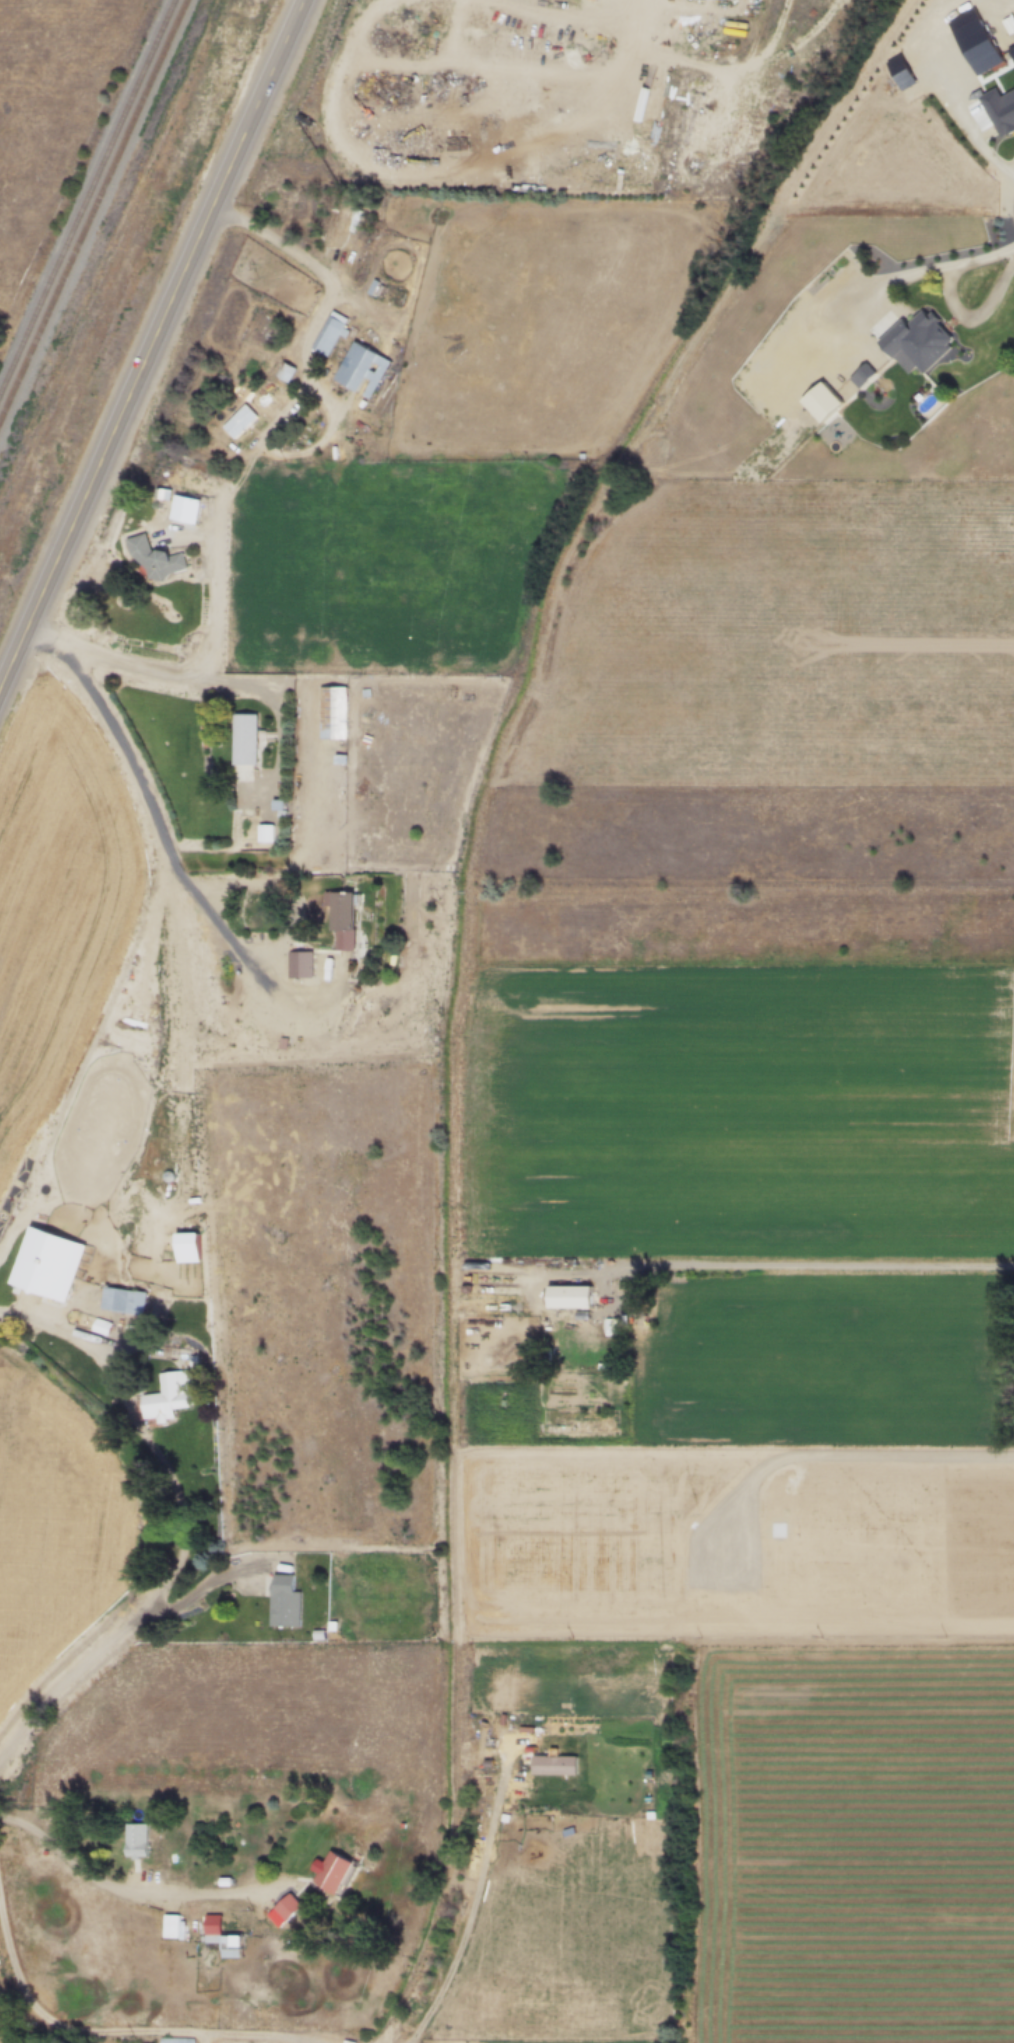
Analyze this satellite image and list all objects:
railway: (86, 197)
railway: (94, 213)
building: (344, 218)
road: (304, 259)
road: (951, 302)
building: (272, 334)
building: (331, 334)
building: (917, 341)
road: (148, 349)
building: (365, 371)
building: (287, 373)
building: (859, 374)
building: (234, 427)
building: (159, 560)
road: (217, 596)
building: (335, 712)
building: (248, 739)
building: (267, 834)
building: (346, 921)
road: (225, 926)
building: (303, 965)
road: (177, 1229)
building: (50, 1262)
building: (574, 1297)
building: (125, 1301)
road: (34, 1312)
building: (166, 1397)
road: (114, 1465)
building: (285, 1602)
building: (138, 1841)
building: (336, 1872)
road: (118, 1883)
road: (474, 1905)
building: (291, 1908)
building: (173, 1927)
building: (224, 1938)
road: (60, 2025)
road: (267, 2034)
road: (212, 2037)
building: (180, 2041)
road: (319, 2041)

